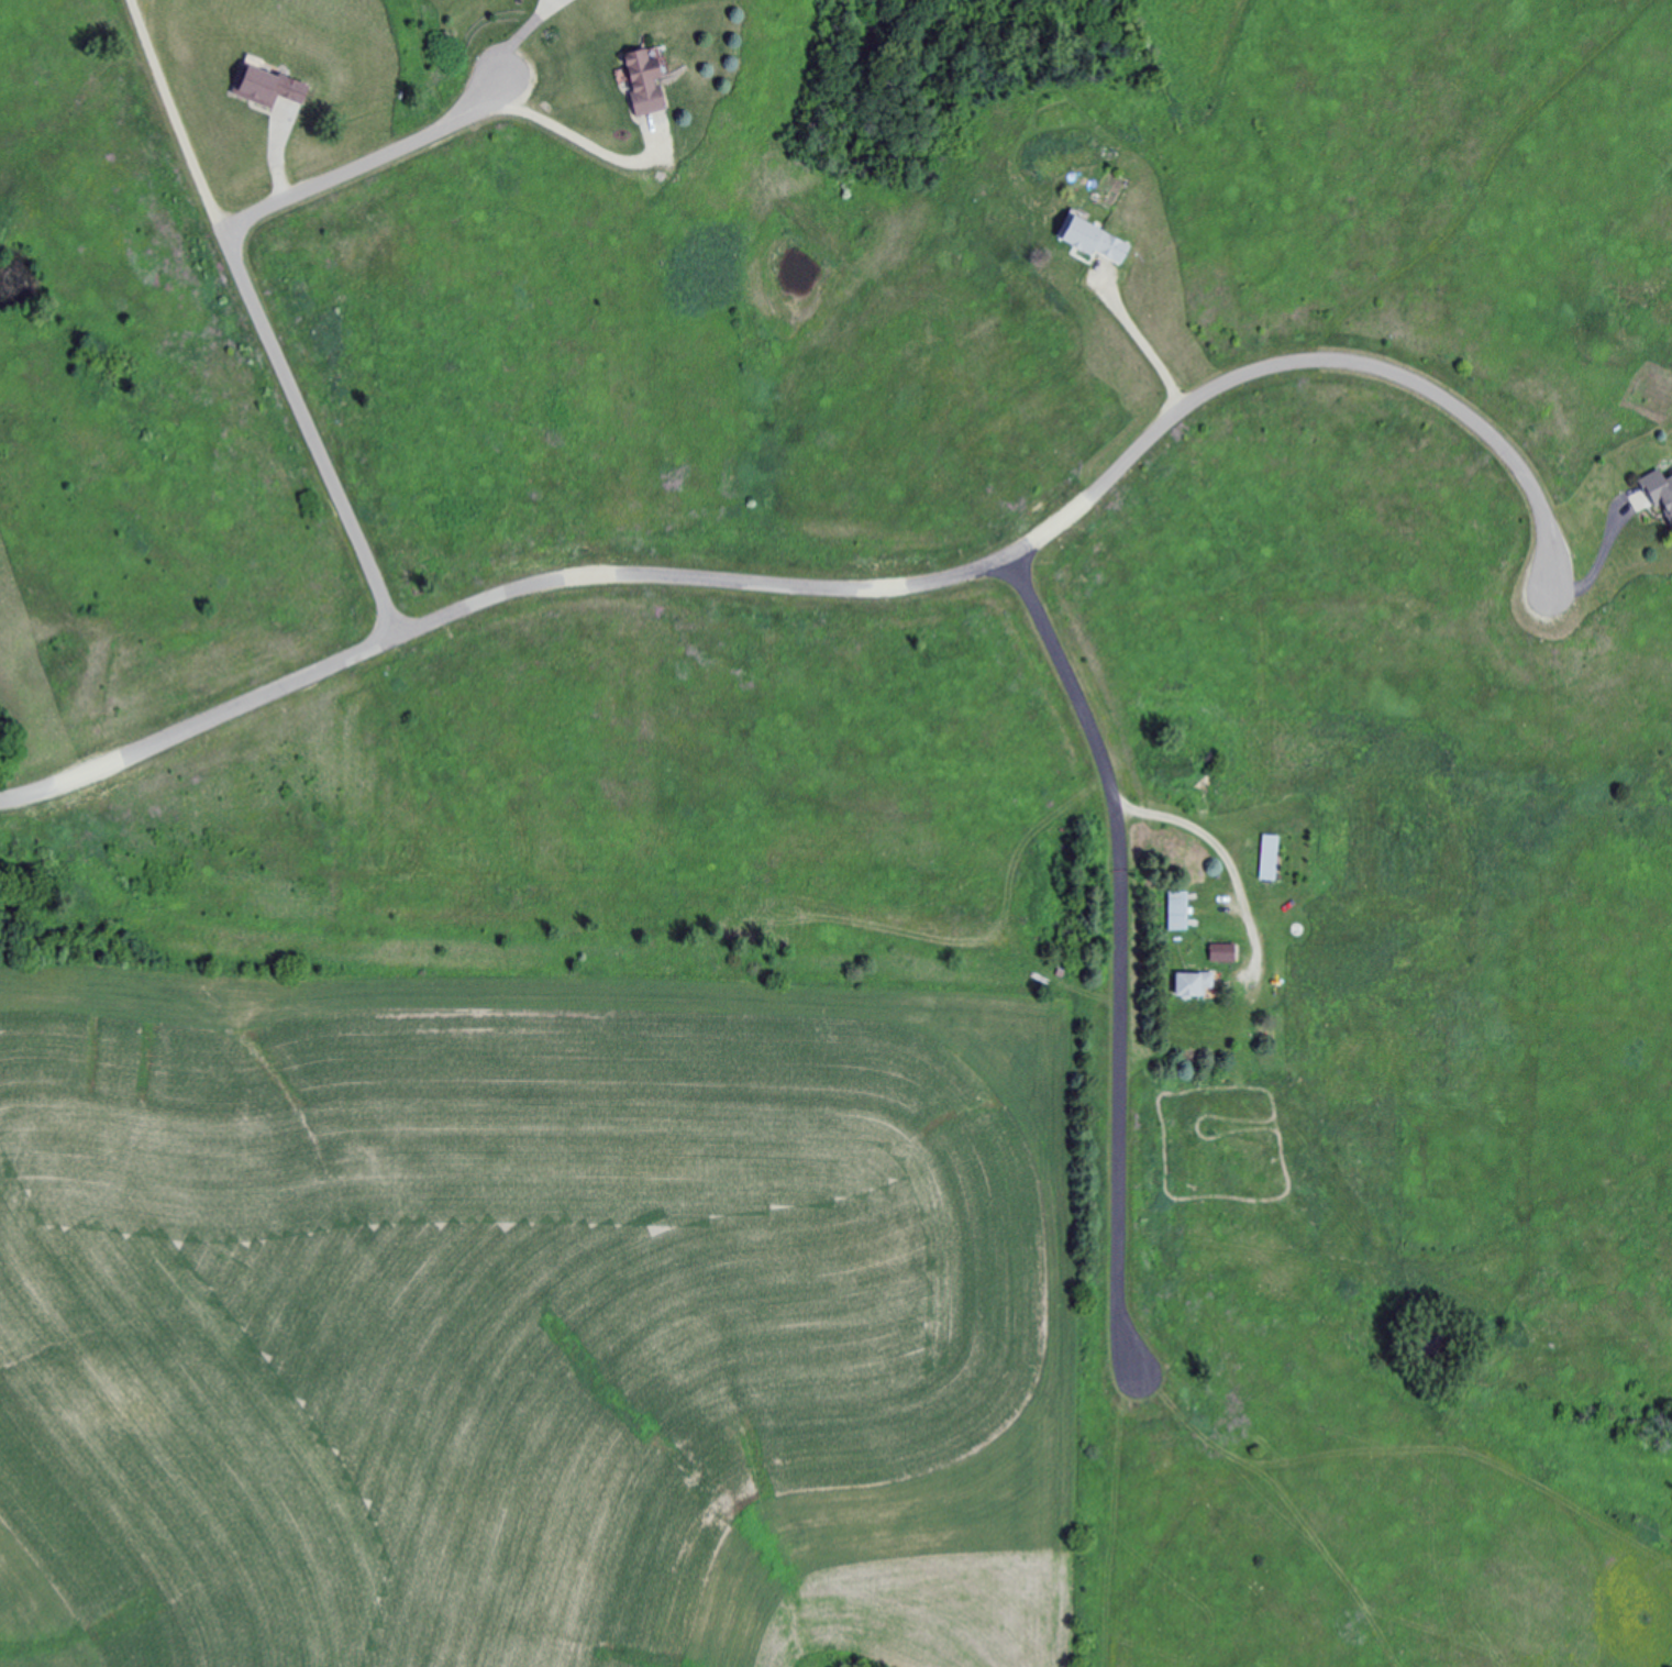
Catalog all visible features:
building: (651, 81)
building: (273, 87)
road: (368, 162)
building: (1098, 241)
road: (264, 322)
building: (1663, 495)
road: (856, 595)
building: (1271, 855)
building: (1331, 859)
building: (1181, 912)
road: (1121, 958)
building: (1404, 965)
building: (1314, 970)
building: (1199, 987)

